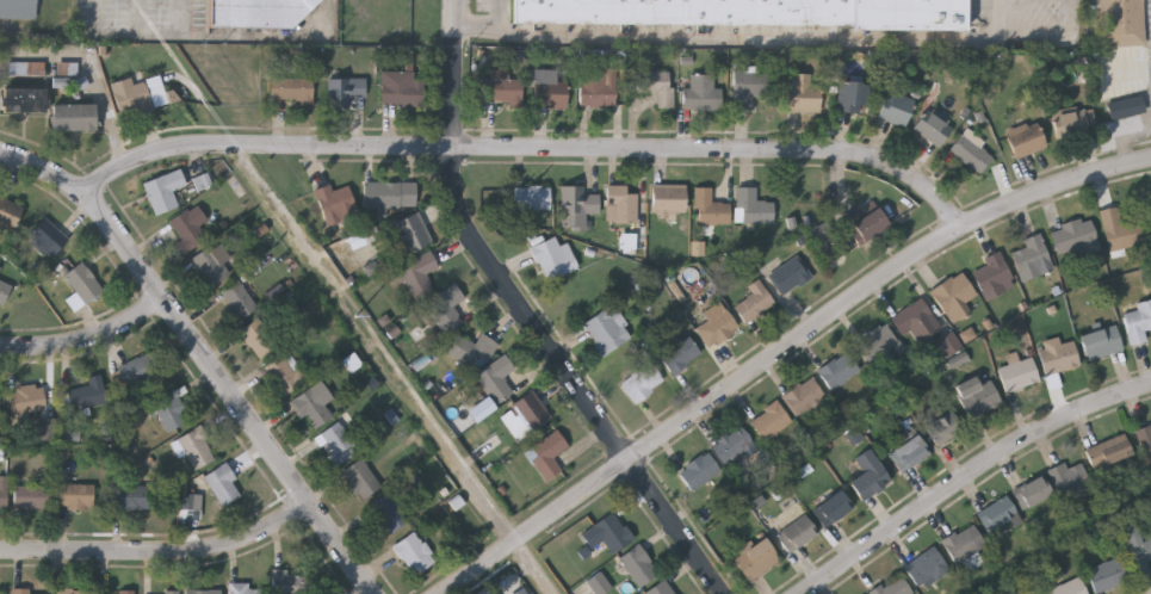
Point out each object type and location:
building: (18, 10)
building: (259, 12)
building: (753, 13)
road: (94, 17)
road: (140, 17)
road: (184, 17)
parking lot: (141, 19)
building: (1121, 24)
road: (138, 33)
road: (747, 39)
building: (26, 68)
building: (68, 69)
building: (656, 87)
building: (750, 89)
building: (402, 91)
building: (500, 91)
building: (159, 92)
building: (291, 92)
building: (346, 92)
building: (549, 92)
building: (598, 93)
building: (701, 95)
building: (803, 95)
building: (135, 98)
building: (853, 99)
building: (24, 103)
building: (1124, 105)
building: (896, 111)
building: (73, 119)
building: (1073, 124)
building: (932, 130)
building: (1026, 141)
road: (534, 147)
building: (971, 155)
building: (203, 182)
building: (163, 193)
building: (389, 196)
building: (532, 199)
building: (668, 200)
building: (334, 203)
building: (621, 206)
building: (1149, 208)
building: (577, 209)
building: (751, 209)
building: (708, 210)
building: (8, 216)
building: (870, 228)
building: (1120, 229)
building: (187, 233)
building: (819, 234)
building: (411, 235)
building: (48, 239)
building: (365, 239)
building: (1075, 240)
building: (629, 241)
building: (553, 260)
building: (1032, 260)
building: (0, 268)
building: (211, 268)
building: (420, 274)
building: (790, 278)
building: (994, 278)
building: (81, 285)
building: (4, 291)
building: (954, 298)
building: (239, 301)
building: (754, 304)
building: (446, 309)
road: (530, 317)
building: (916, 321)
building: (1139, 321)
building: (716, 327)
power tower: (359, 329)
building: (607, 332)
road: (87, 341)
building: (259, 341)
building: (877, 345)
building: (949, 345)
building: (1102, 345)
building: (471, 348)
road: (785, 351)
road: (203, 353)
building: (680, 357)
building: (1060, 359)
building: (959, 360)
building: (140, 371)
building: (839, 372)
building: (285, 376)
building: (1019, 377)
building: (495, 379)
building: (642, 384)
building: (88, 392)
building: (804, 398)
building: (977, 398)
building: (27, 401)
building: (482, 409)
building: (311, 410)
building: (169, 413)
building: (531, 414)
building: (0, 420)
building: (769, 423)
building: (942, 428)
building: (47, 429)
building: (1145, 445)
building: (336, 446)
building: (732, 448)
building: (196, 450)
building: (1109, 453)
building: (909, 456)
building: (547, 457)
building: (699, 474)
building: (870, 478)
road: (974, 478)
building: (360, 482)
building: (1071, 482)
building: (223, 487)
building: (4, 494)
building: (1031, 495)
building: (76, 497)
building: (32, 499)
building: (129, 499)
building: (192, 501)
building: (833, 511)
building: (388, 516)
building: (998, 516)
building: (608, 536)
building: (796, 536)
building: (964, 547)
building: (1137, 550)
road: (161, 555)
building: (414, 556)
building: (756, 561)
building: (639, 568)
building: (927, 569)
building: (1108, 576)
building: (290, 583)
building: (600, 583)
building: (893, 587)
building: (1071, 588)
building: (242, 589)
building: (661, 589)
building: (20, 592)
building: (70, 592)
building: (521, 592)
building: (1, 593)
building: (125, 593)
building: (171, 593)
building: (204, 593)

